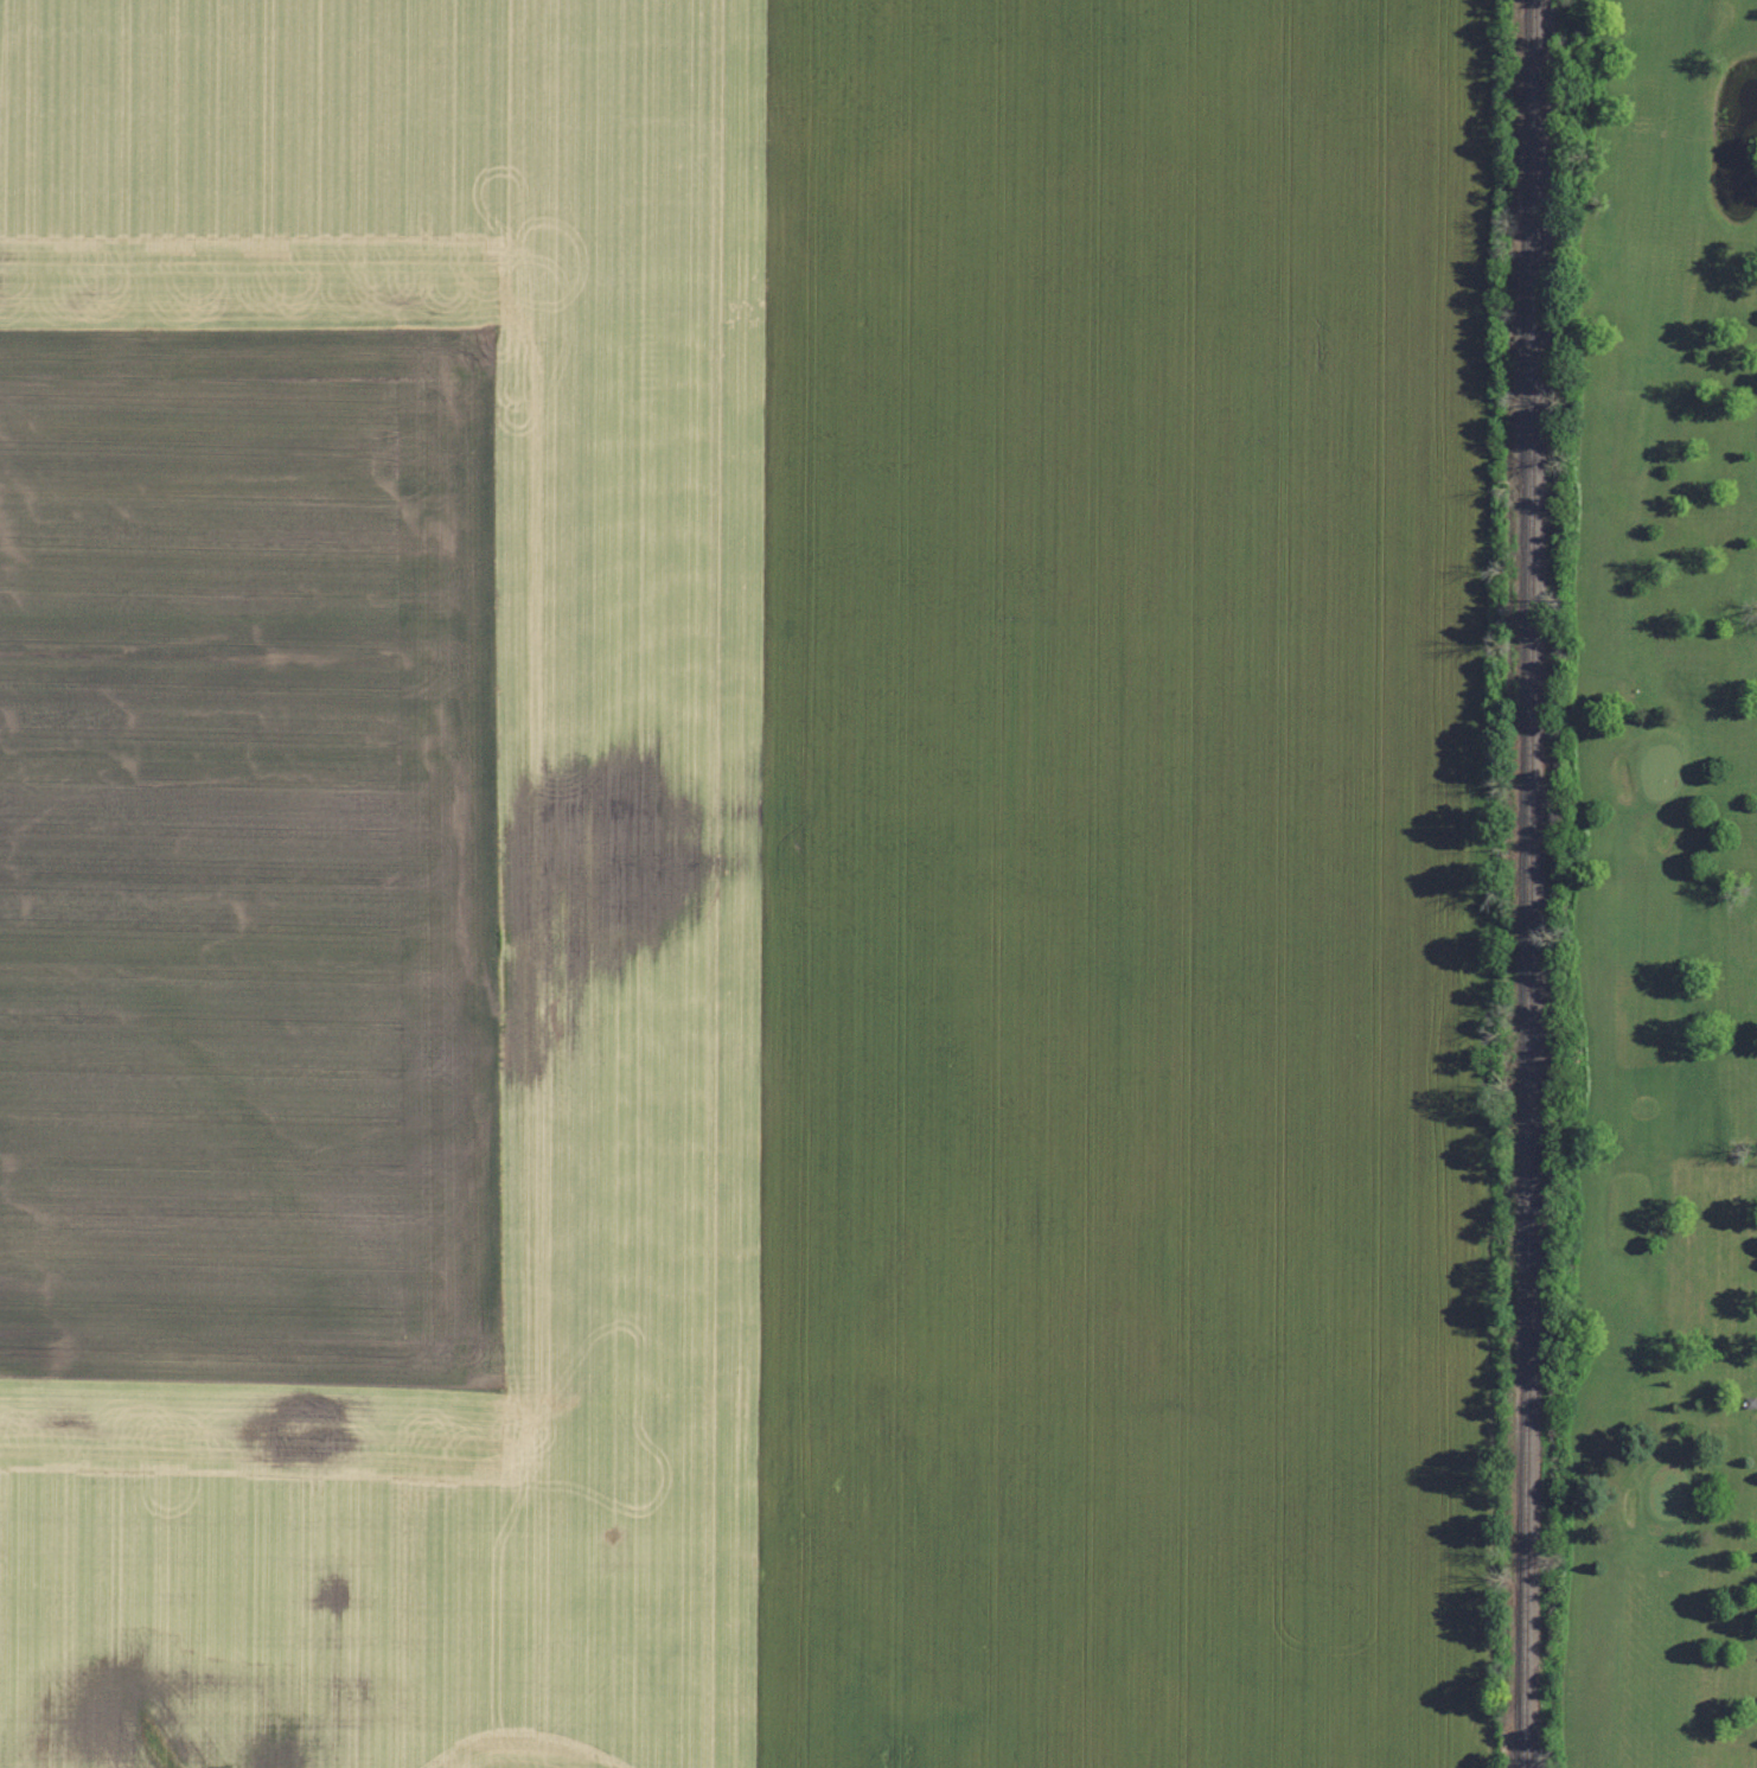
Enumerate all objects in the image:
railway: (1531, 883)

